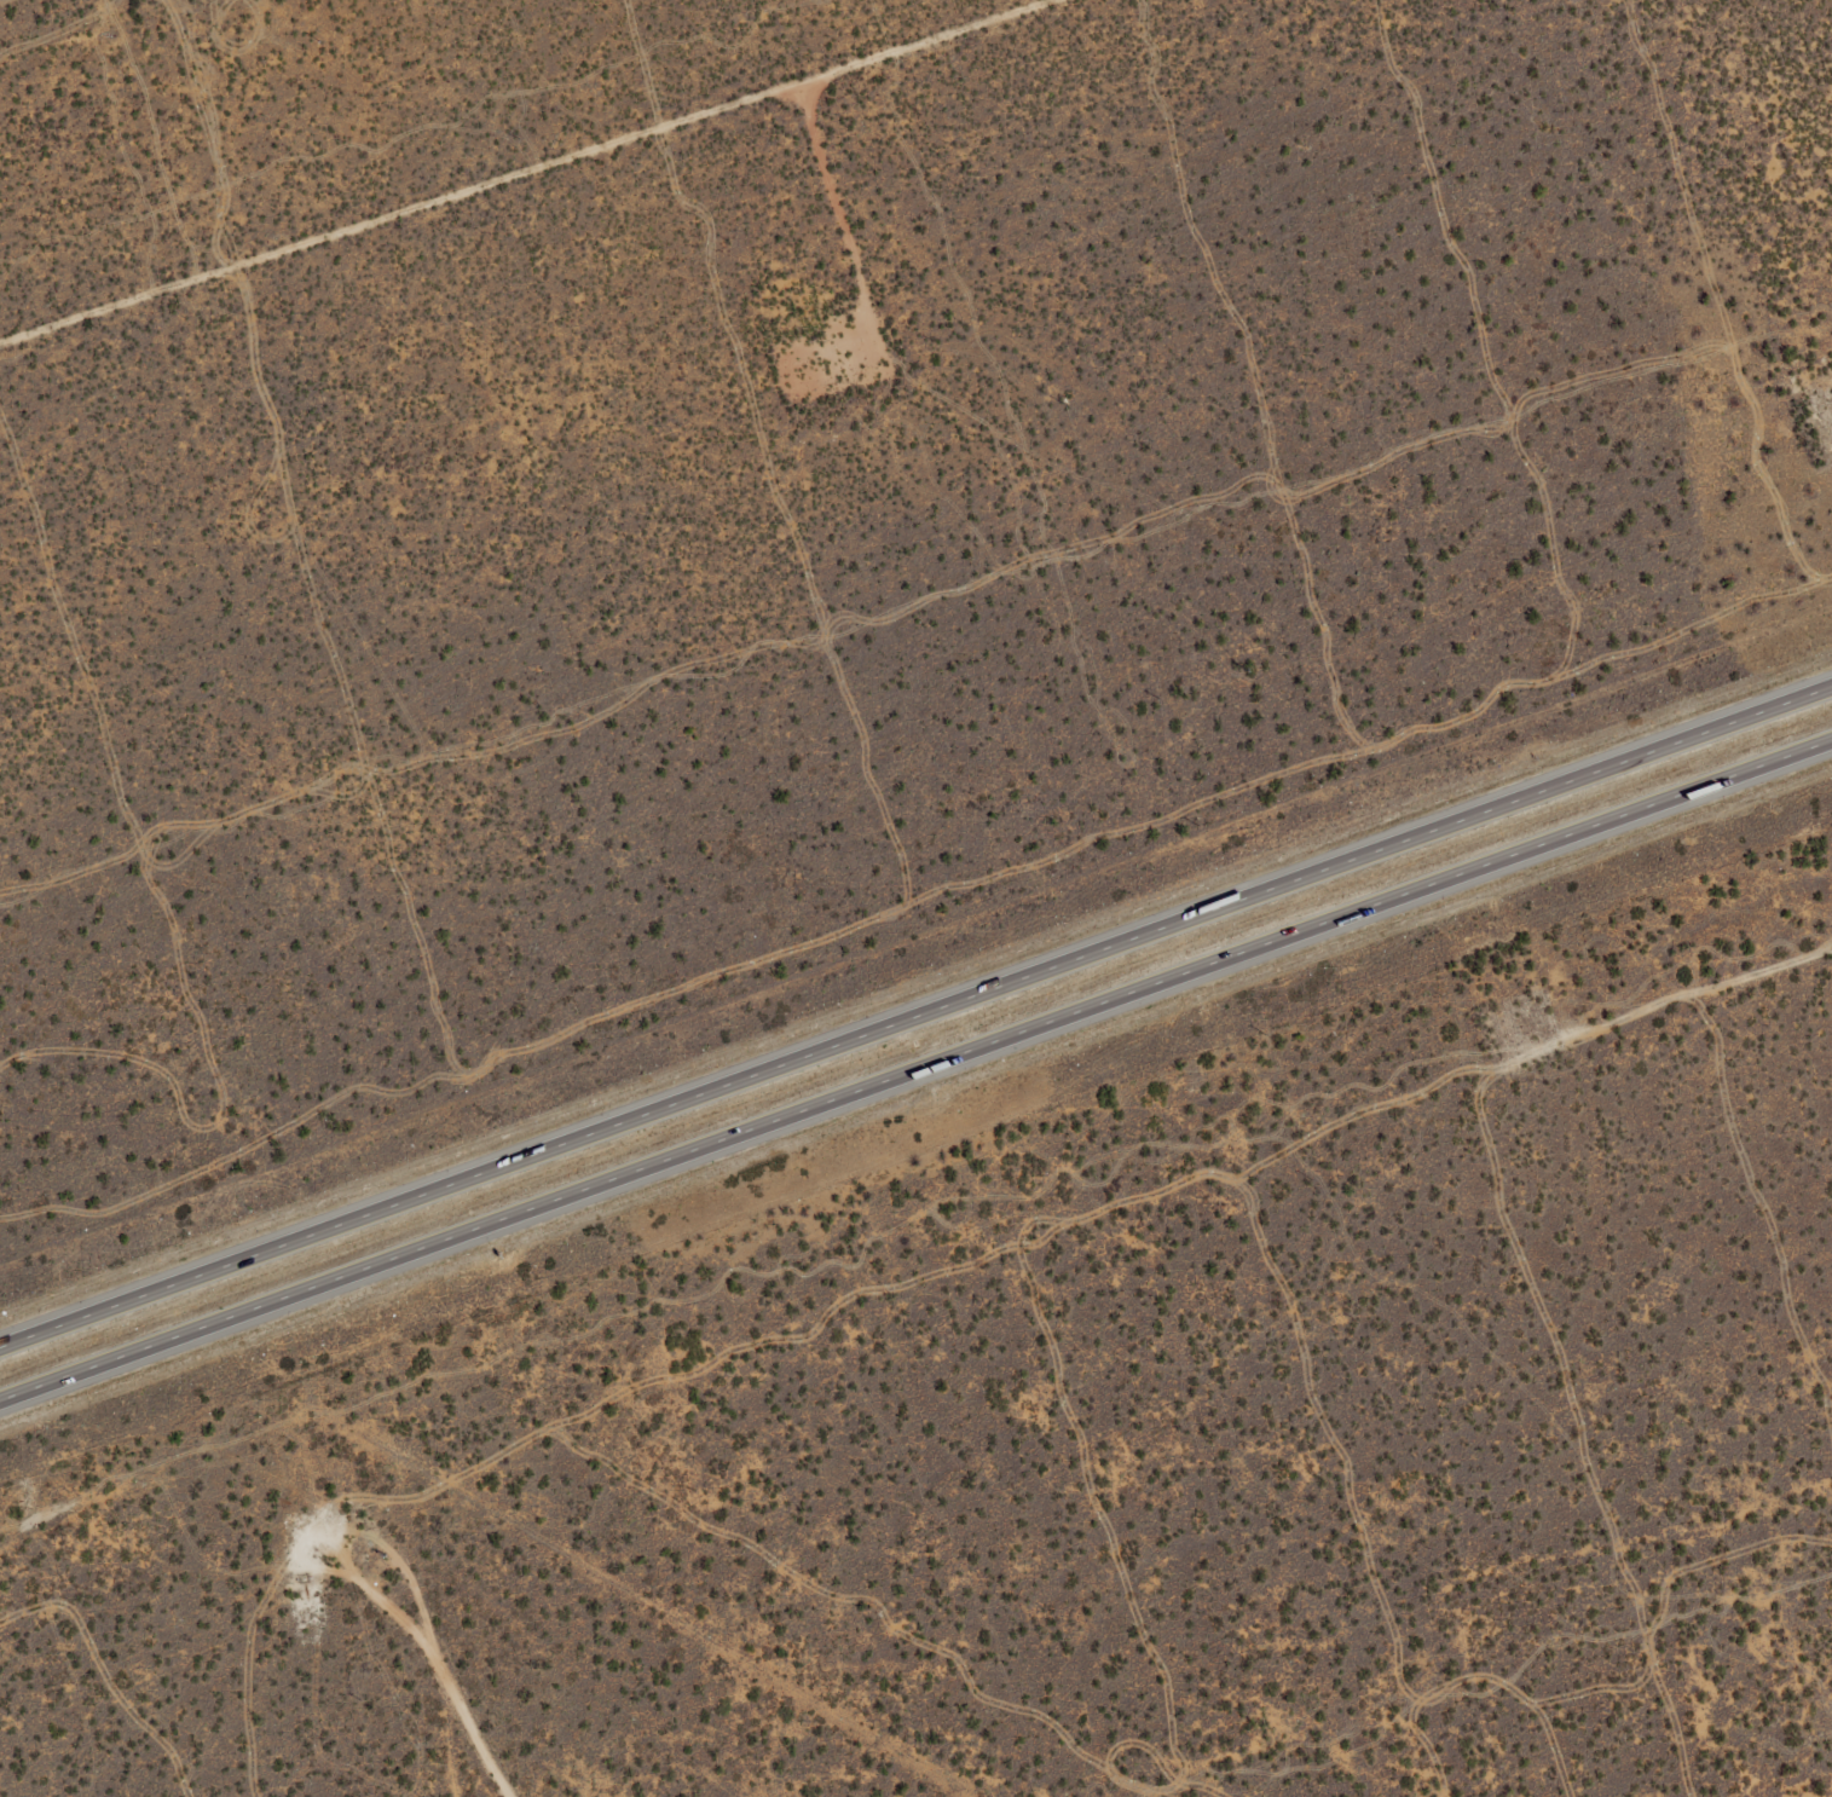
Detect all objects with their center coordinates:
road: (527, 173)
road: (915, 1016)
road: (1636, 1038)
road: (915, 1070)
road: (458, 1715)

